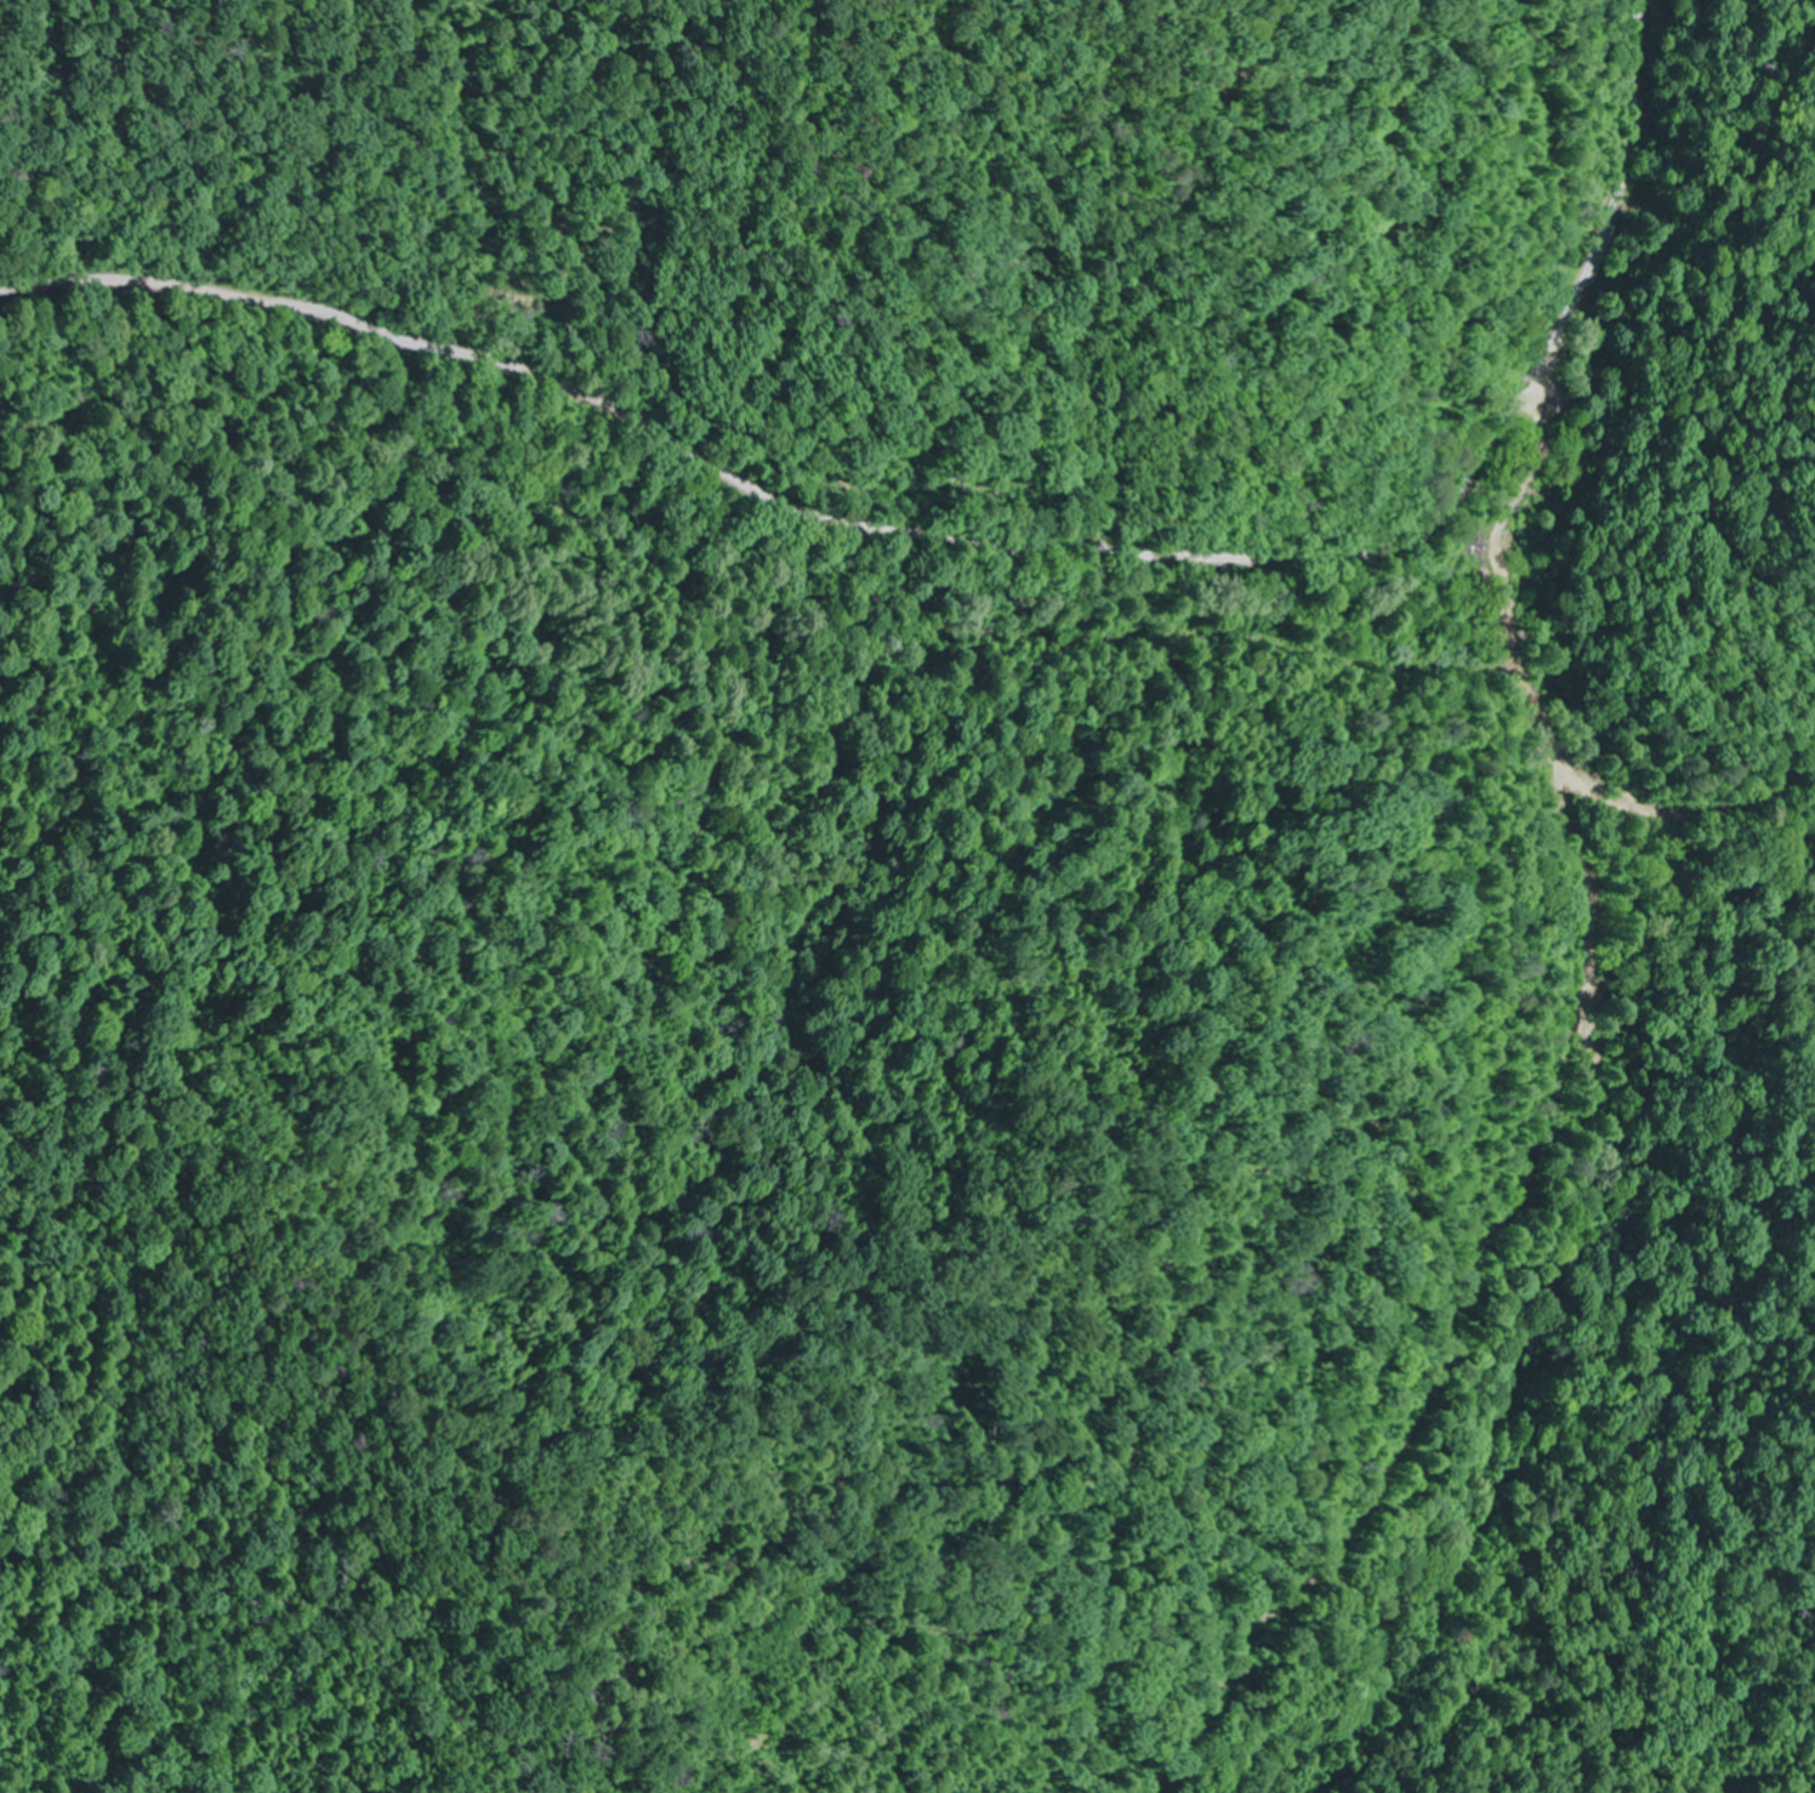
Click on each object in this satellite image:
road: (980, 540)

